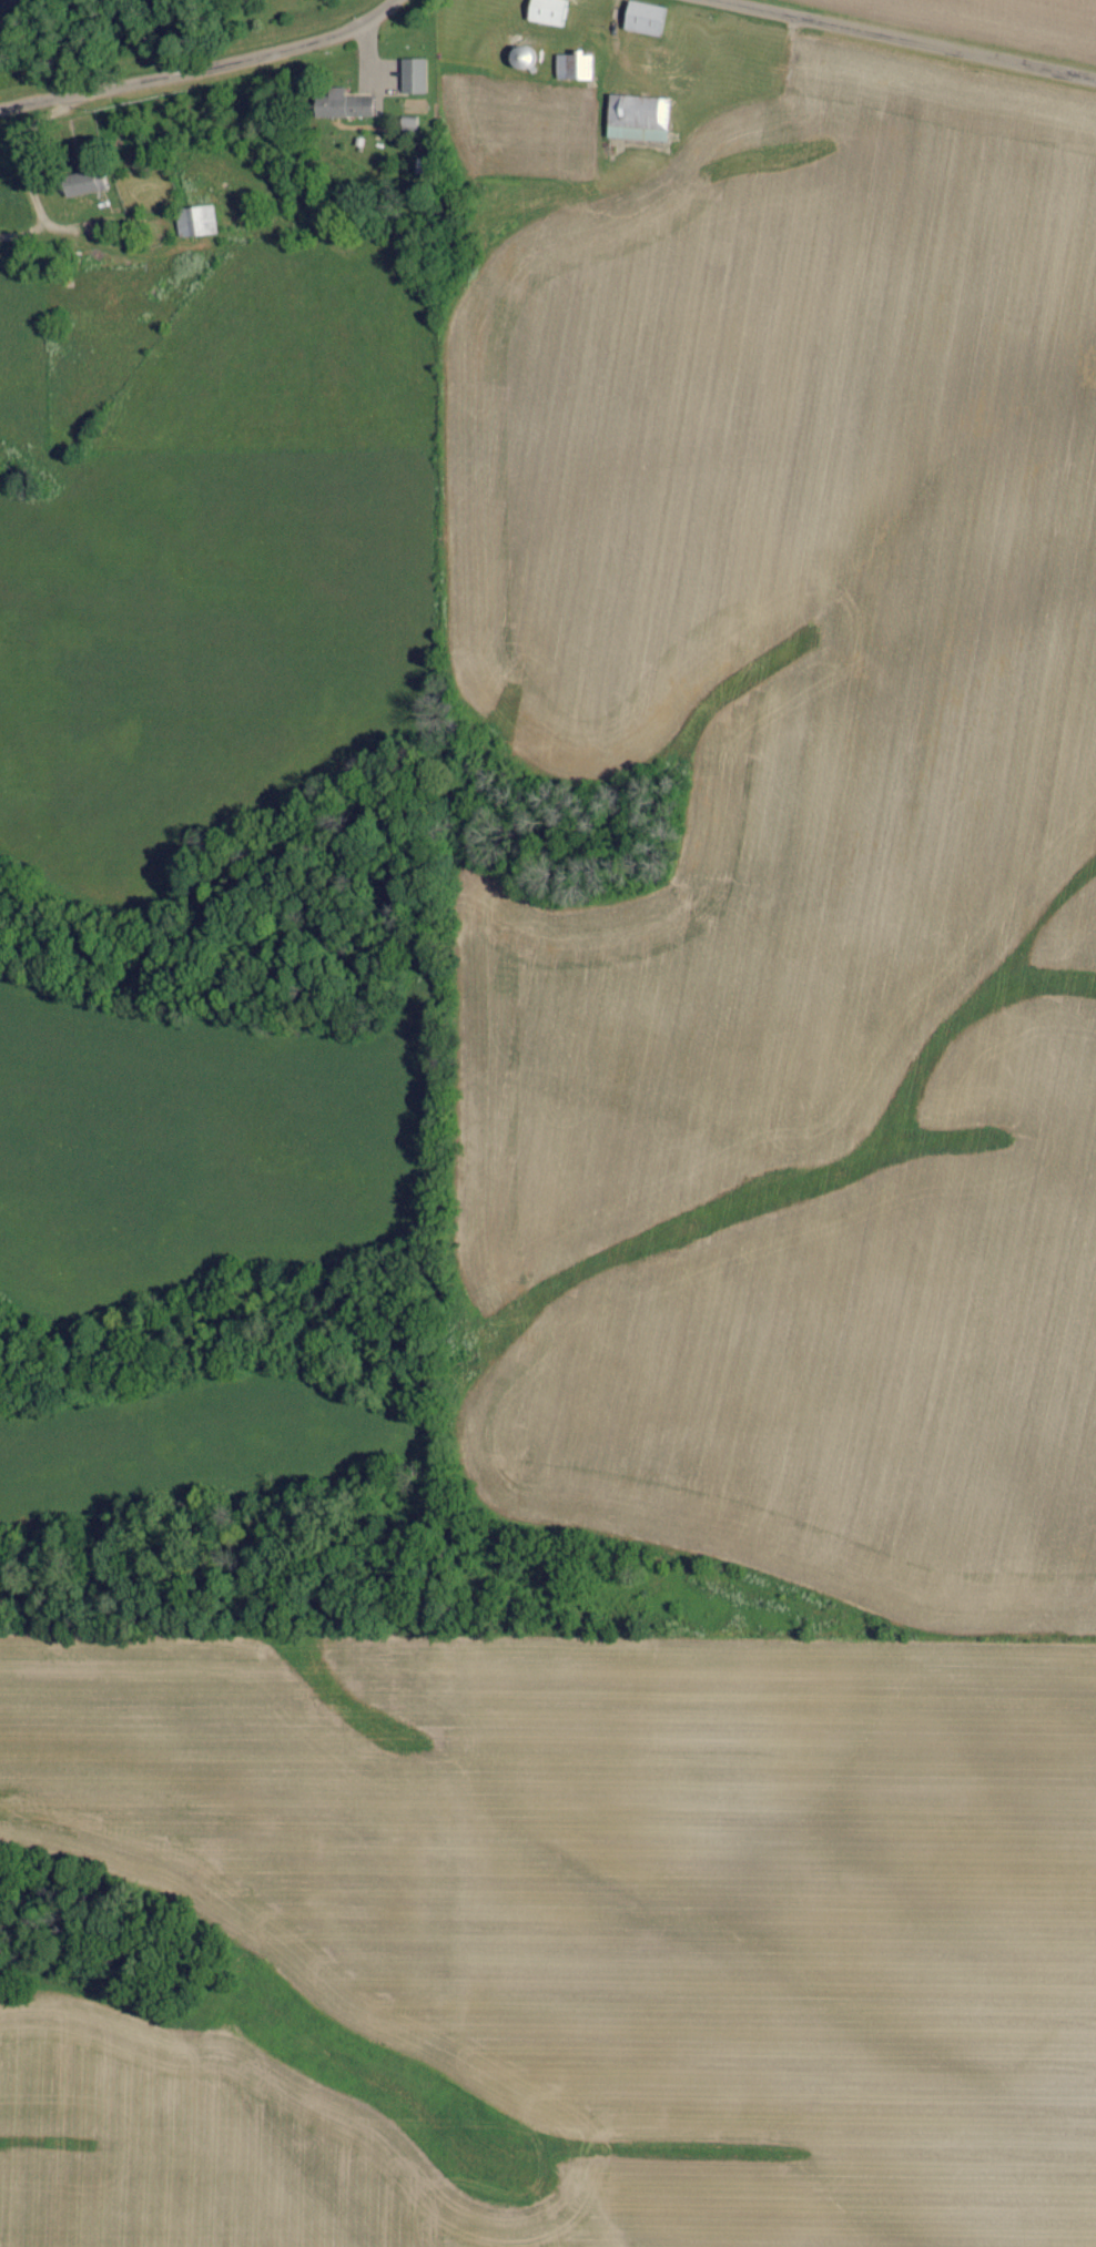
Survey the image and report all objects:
building: (546, 12)
building: (642, 19)
road: (911, 39)
building: (571, 67)
road: (202, 68)
building: (412, 77)
building: (339, 105)
building: (635, 119)
building: (406, 124)
building: (80, 183)
building: (194, 222)

